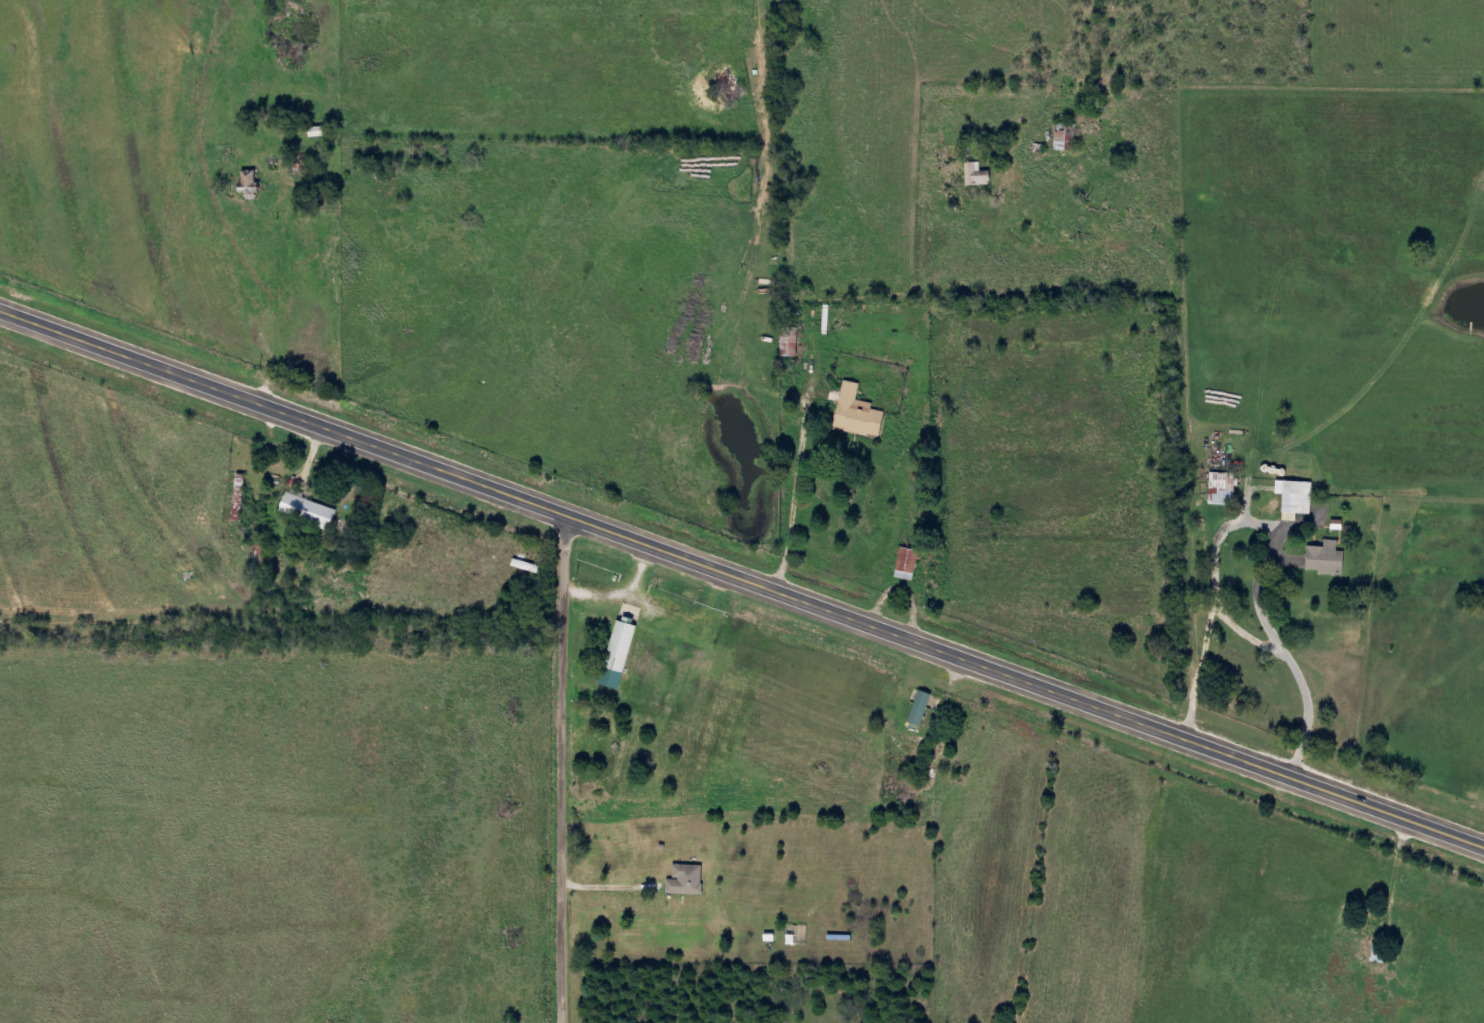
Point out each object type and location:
building: (322, 133)
building: (1069, 138)
building: (980, 176)
building: (794, 343)
road: (1173, 386)
building: (862, 414)
building: (1228, 490)
building: (1301, 498)
building: (243, 499)
building: (313, 513)
building: (1332, 560)
building: (912, 565)
road: (741, 585)
building: (623, 656)
building: (925, 709)
road: (564, 771)
building: (691, 880)

